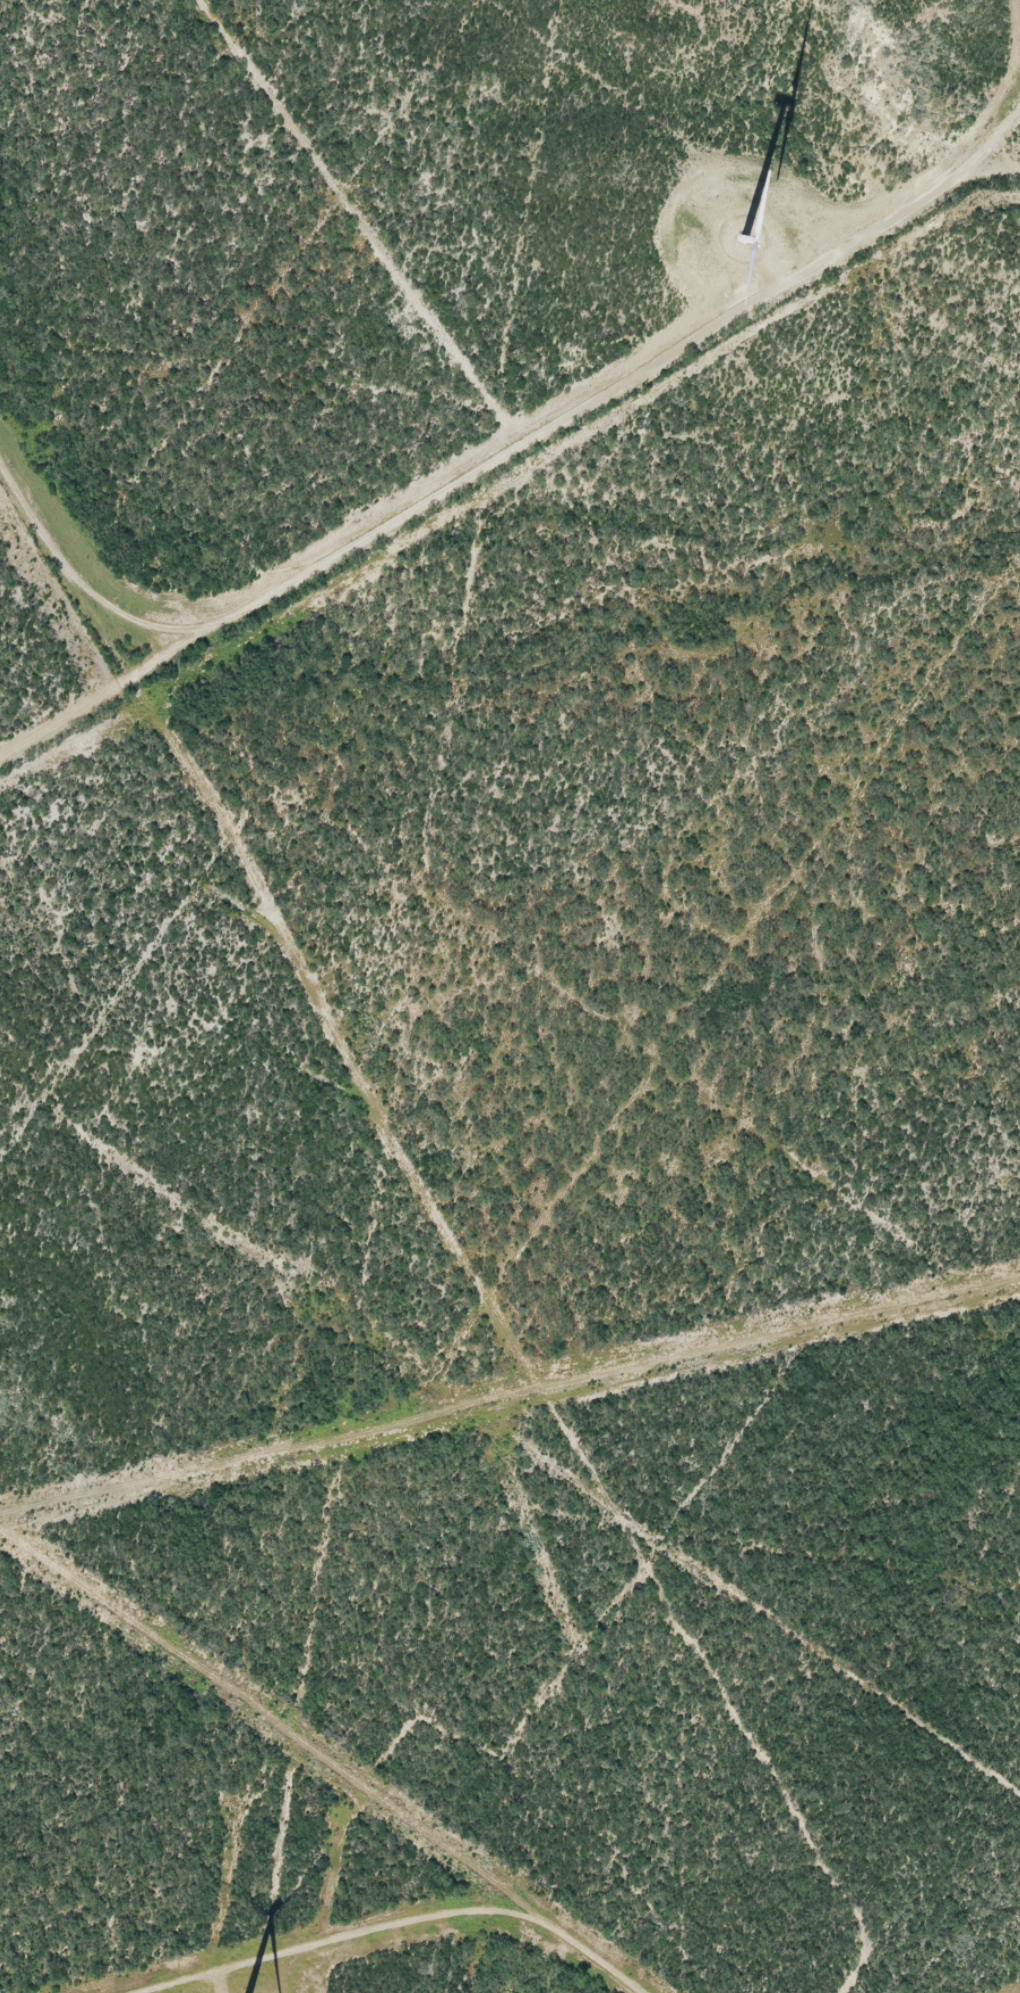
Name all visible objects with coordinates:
wind turbine: (746, 240)
road: (476, 1184)
road: (510, 1334)

